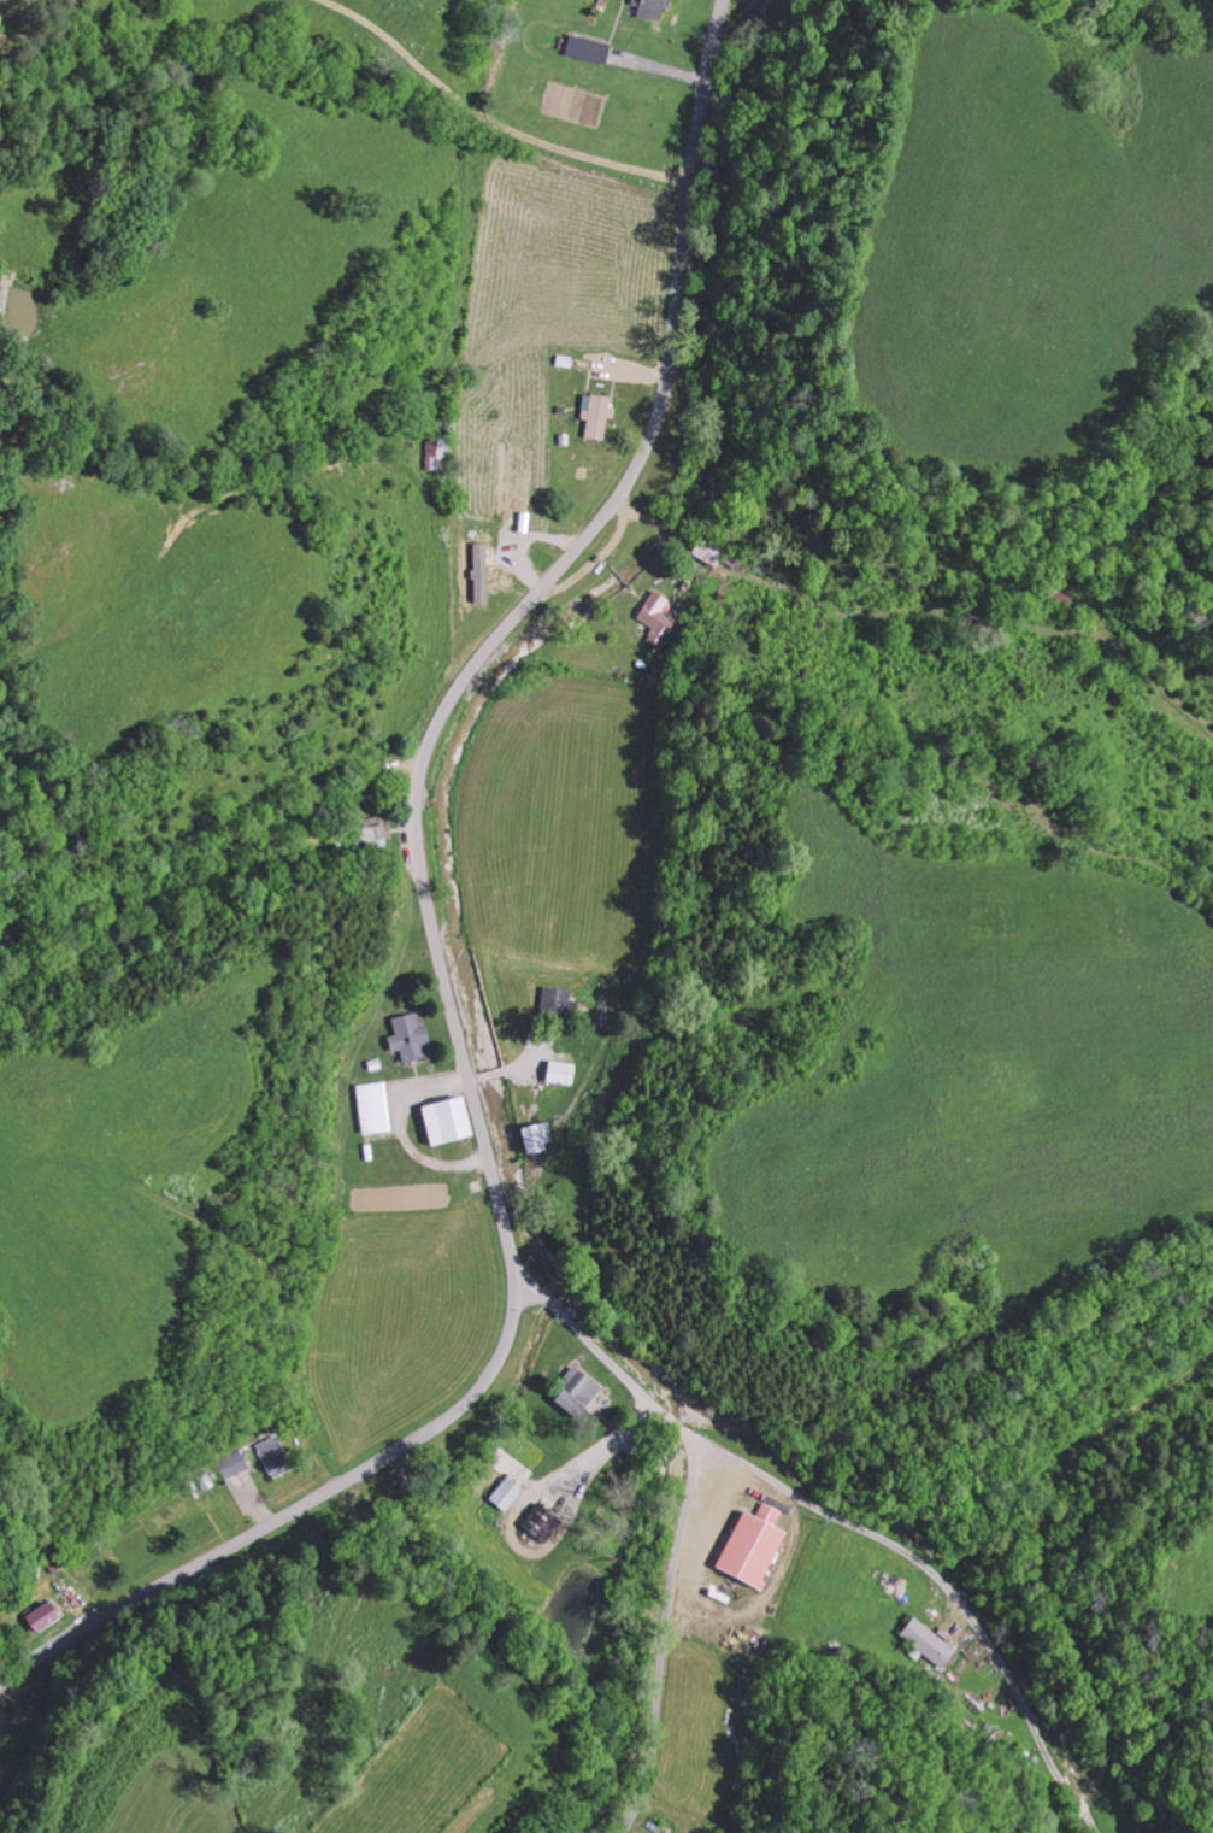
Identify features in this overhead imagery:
building: (650, 8)
building: (589, 48)
building: (597, 413)
building: (437, 451)
building: (482, 570)
building: (656, 616)
road: (442, 942)
building: (560, 1001)
building: (411, 1035)
building: (375, 1106)
building: (448, 1120)
building: (538, 1134)
road: (608, 1358)
building: (578, 1391)
building: (275, 1456)
building: (234, 1462)
building: (542, 1521)
building: (754, 1545)
road: (949, 1584)
building: (43, 1615)
road: (664, 1637)
building: (926, 1641)

